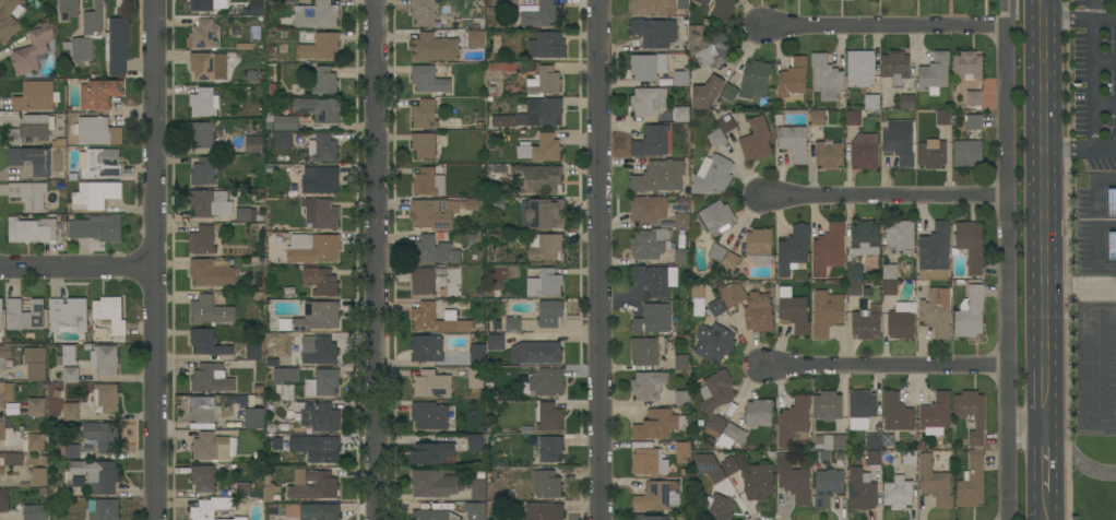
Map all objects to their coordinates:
building: (201, 5)
building: (69, 7)
building: (652, 7)
building: (719, 8)
road: (1090, 9)
building: (423, 11)
road: (1006, 12)
building: (316, 14)
building: (543, 15)
building: (9, 19)
building: (93, 19)
road: (1079, 20)
road: (880, 24)
building: (654, 33)
building: (202, 35)
building: (475, 38)
building: (550, 45)
building: (117, 46)
building: (319, 47)
building: (434, 47)
building: (82, 48)
building: (33, 49)
building: (713, 51)
road: (1103, 60)
road: (1091, 61)
building: (201, 64)
building: (648, 66)
building: (967, 66)
building: (895, 67)
building: (859, 68)
building: (934, 73)
building: (501, 76)
building: (826, 76)
building: (681, 78)
building: (793, 79)
building: (428, 80)
building: (755, 80)
building: (324, 81)
building: (545, 82)
building: (728, 92)
building: (707, 93)
building: (98, 94)
building: (35, 96)
building: (974, 98)
building: (648, 102)
building: (906, 102)
building: (203, 103)
building: (871, 103)
road: (1104, 104)
building: (318, 109)
building: (424, 114)
building: (533, 114)
building: (681, 114)
building: (817, 117)
building: (853, 118)
building: (942, 118)
building: (974, 121)
building: (286, 122)
building: (726, 123)
road: (1092, 126)
building: (29, 129)
building: (96, 131)
building: (201, 134)
building: (716, 138)
building: (283, 140)
building: (757, 140)
building: (651, 141)
building: (793, 142)
building: (899, 142)
building: (253, 145)
building: (423, 145)
building: (322, 147)
road: (1068, 147)
building: (541, 149)
road: (1095, 149)
road: (1107, 150)
building: (864, 151)
building: (966, 153)
building: (829, 154)
building: (931, 154)
building: (31, 159)
building: (99, 163)
building: (203, 172)
building: (712, 175)
building: (660, 176)
building: (538, 178)
building: (319, 179)
building: (428, 182)
road: (881, 193)
building: (28, 194)
building: (95, 194)
building: (210, 203)
building: (473, 203)
building: (648, 209)
building: (320, 213)
building: (432, 213)
building: (542, 213)
road: (1044, 214)
building: (247, 215)
building: (715, 217)
building: (681, 221)
road: (1006, 226)
building: (96, 228)
building: (31, 231)
building: (900, 237)
building: (865, 238)
building: (201, 240)
building: (649, 243)
building: (970, 245)
building: (759, 246)
building: (545, 247)
building: (312, 248)
building: (828, 249)
building: (434, 250)
building: (793, 250)
building: (716, 252)
building: (935, 252)
building: (681, 257)
road: (159, 259)
road: (378, 260)
road: (596, 260)
building: (731, 260)
road: (80, 265)
building: (854, 271)
building: (211, 273)
building: (428, 280)
building: (655, 280)
building: (890, 280)
building: (320, 281)
building: (544, 283)
building: (854, 287)
road: (1101, 304)
building: (716, 307)
building: (749, 307)
building: (793, 309)
building: (211, 310)
building: (826, 312)
building: (936, 312)
building: (1, 314)
building: (109, 314)
building: (549, 314)
building: (970, 314)
building: (24, 315)
building: (68, 315)
building: (313, 317)
building: (432, 318)
building: (652, 319)
building: (901, 320)
building: (513, 324)
building: (865, 324)
building: (715, 340)
building: (496, 342)
building: (207, 343)
building: (427, 348)
building: (320, 351)
building: (644, 351)
building: (253, 352)
building: (535, 352)
building: (477, 354)
building: (4, 355)
building: (67, 356)
building: (104, 359)
building: (681, 362)
road: (1085, 362)
building: (35, 363)
parking lot: (1097, 363)
road: (1115, 363)
road: (887, 364)
building: (70, 375)
building: (284, 375)
building: (476, 377)
building: (211, 378)
building: (547, 381)
building: (322, 382)
building: (431, 385)
building: (648, 386)
building: (715, 391)
building: (2, 395)
building: (105, 398)
building: (682, 398)
building: (827, 405)
building: (35, 406)
building: (860, 409)
building: (204, 410)
building: (70, 412)
building: (759, 413)
building: (897, 413)
building: (935, 414)
building: (429, 415)
building: (320, 416)
building: (549, 417)
building: (254, 418)
building: (793, 421)
road: (1101, 421)
building: (658, 424)
building: (3, 426)
road: (1025, 428)
building: (725, 432)
building: (103, 435)
road: (1046, 439)
building: (872, 441)
building: (36, 442)
building: (474, 442)
building: (834, 442)
building: (276, 444)
building: (213, 447)
building: (550, 448)
building: (978, 448)
building: (72, 450)
building: (322, 450)
building: (681, 451)
building: (432, 453)
building: (909, 458)
building: (874, 459)
building: (10, 460)
building: (649, 461)
road: (1080, 462)
building: (708, 466)
road: (1005, 474)
building: (97, 475)
building: (39, 476)
building: (750, 476)
building: (203, 477)
building: (793, 480)
road: (1046, 481)
building: (934, 482)
building: (432, 483)
building: (546, 484)
building: (312, 485)
building: (827, 486)
building: (242, 489)
building: (478, 489)
building: (860, 489)
building: (897, 493)
building: (656, 496)
building: (272, 498)
building: (3, 499)
building: (717, 507)
building: (215, 509)
building: (105, 510)
building: (474, 510)
building: (327, 511)
building: (543, 511)
building: (35, 512)
building: (429, 515)
road: (1047, 516)
building: (649, 517)

